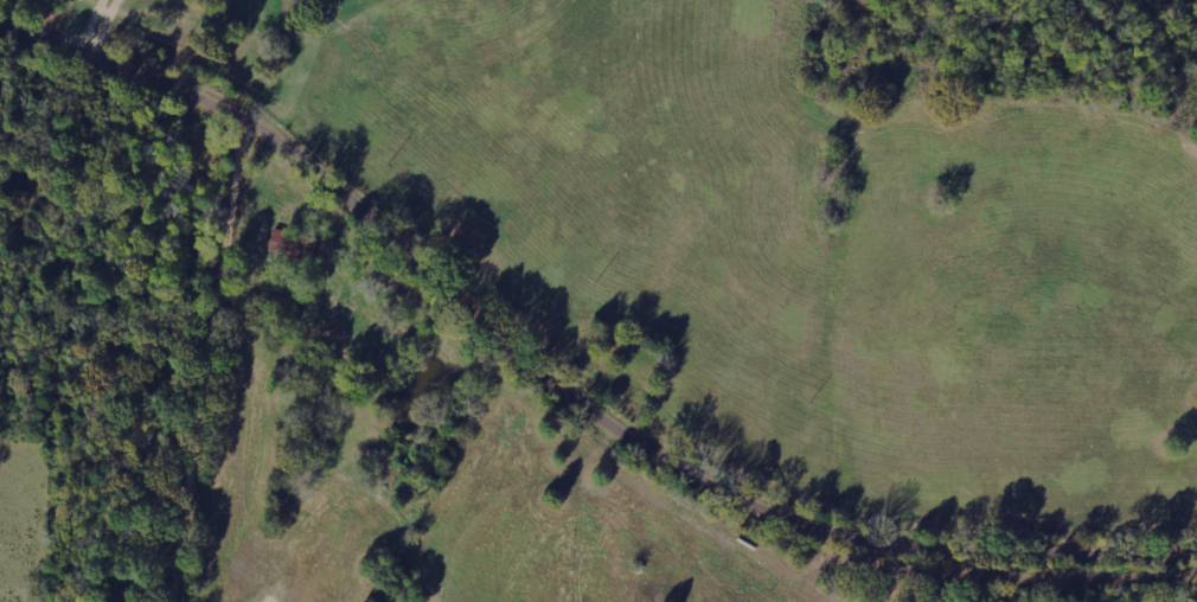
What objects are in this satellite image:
road: (217, 364)
road: (561, 389)

